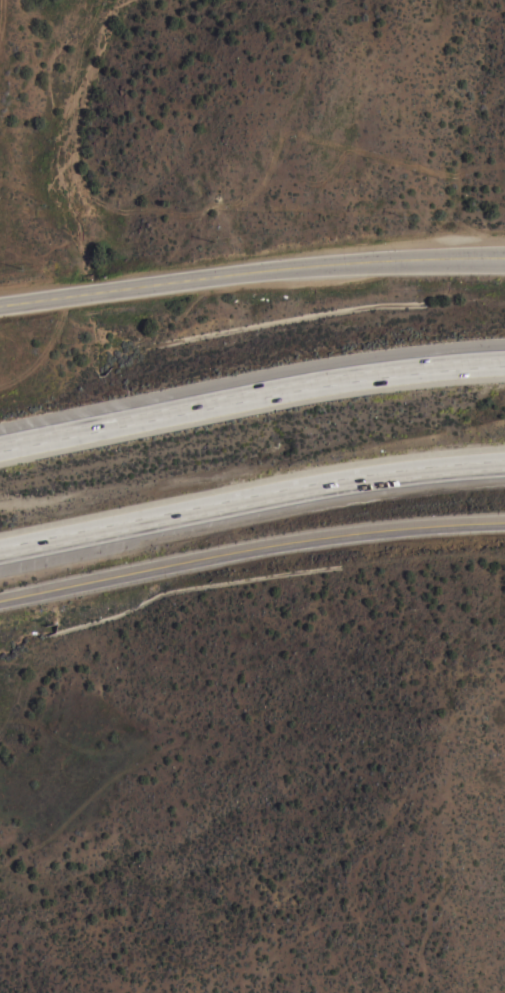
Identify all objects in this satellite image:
road: (251, 271)
road: (250, 387)
road: (250, 486)
road: (250, 538)

